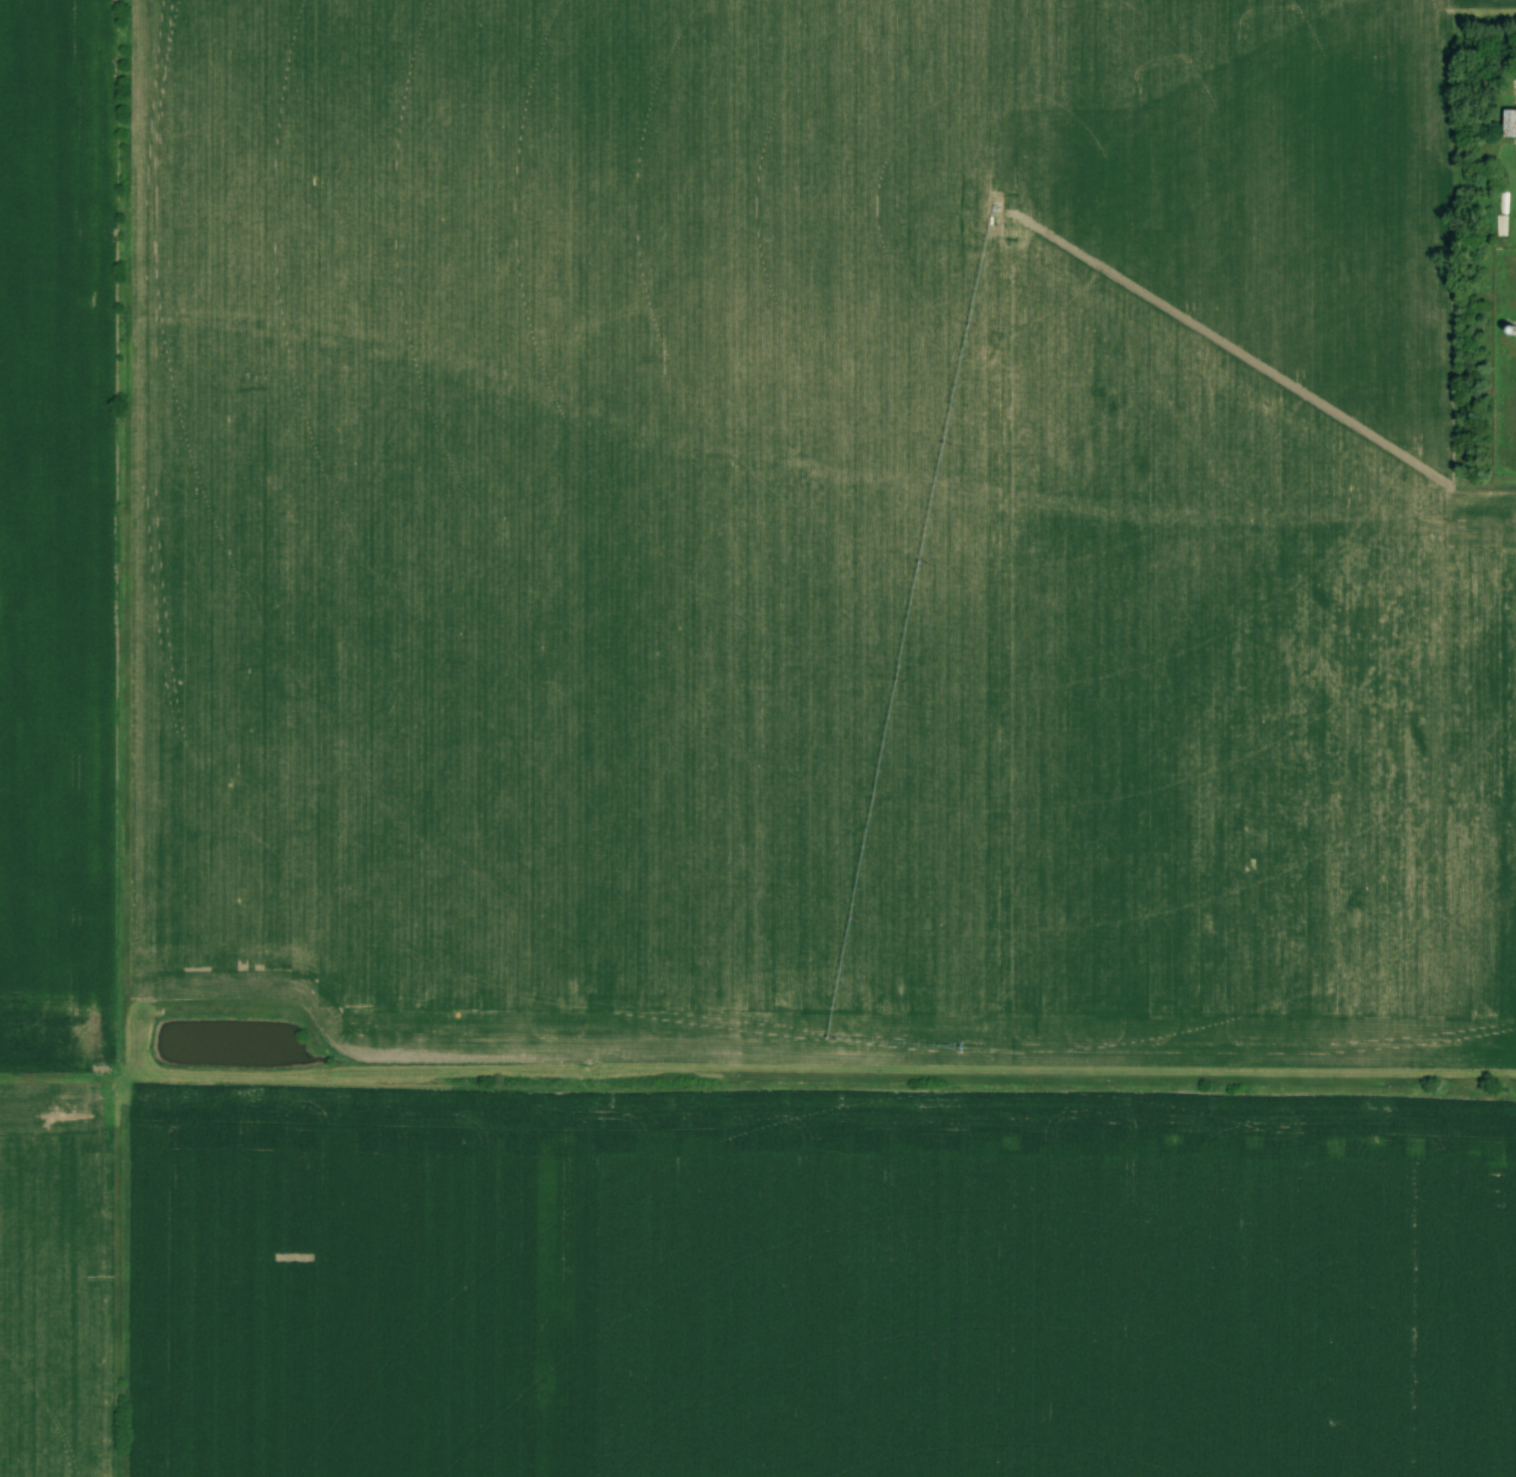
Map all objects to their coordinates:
building: (1505, 121)

